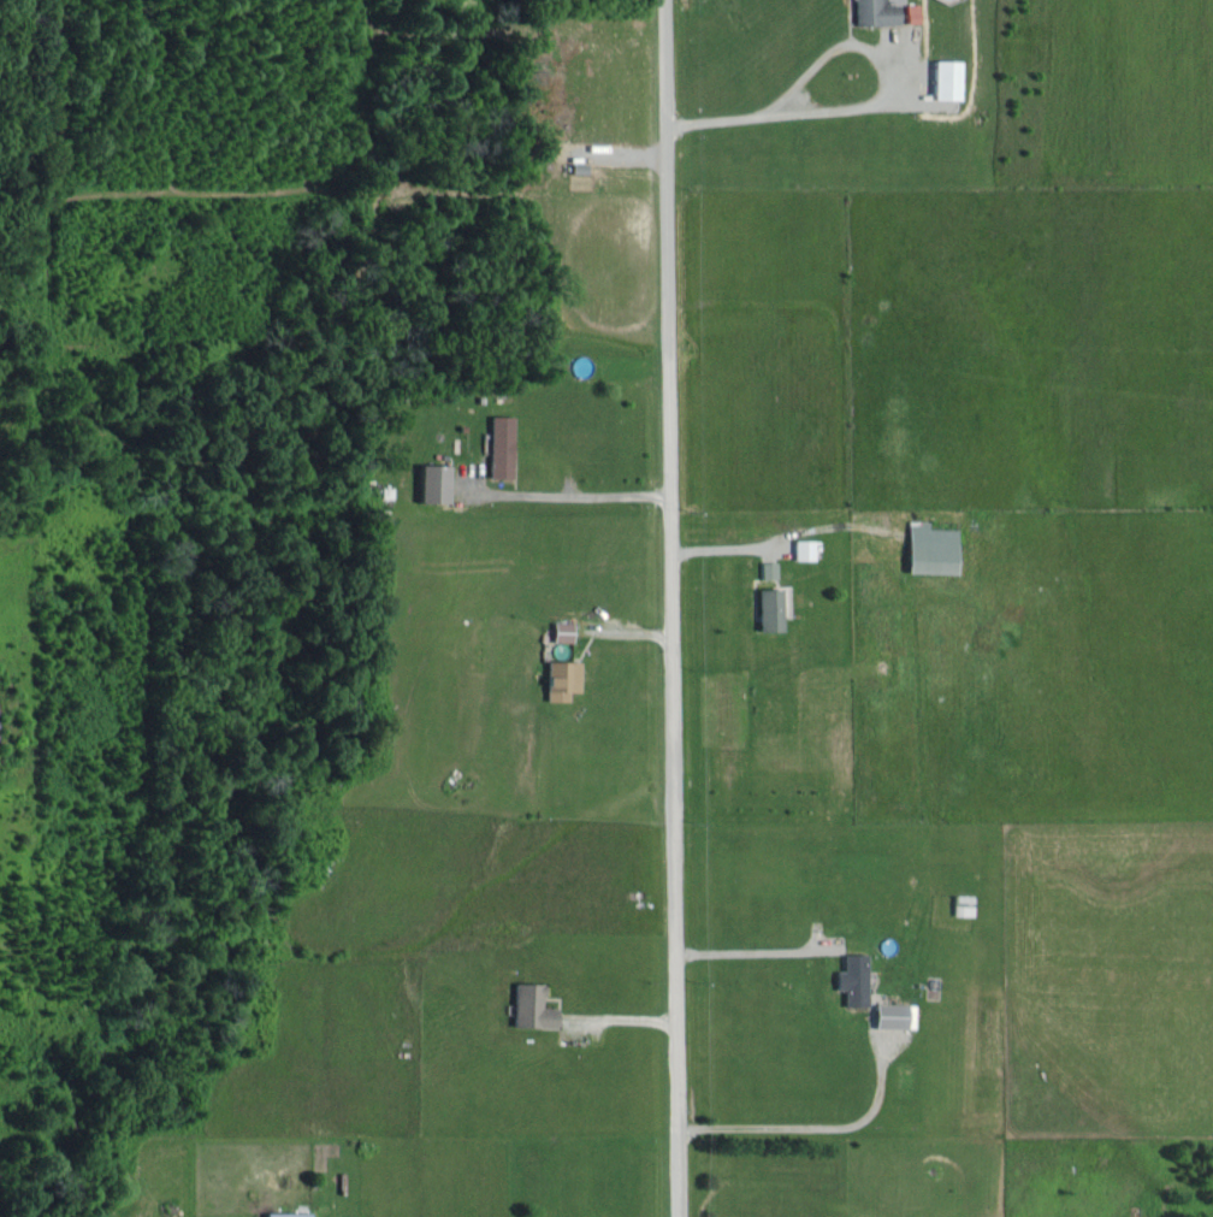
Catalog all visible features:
building: (874, 12)
building: (910, 13)
building: (943, 79)
road: (864, 110)
building: (499, 447)
building: (432, 484)
road: (578, 498)
building: (801, 548)
building: (929, 548)
building: (767, 568)
road: (668, 608)
building: (768, 608)
building: (561, 631)
building: (560, 678)
building: (851, 979)
building: (529, 1006)
building: (893, 1015)
building: (286, 1213)

